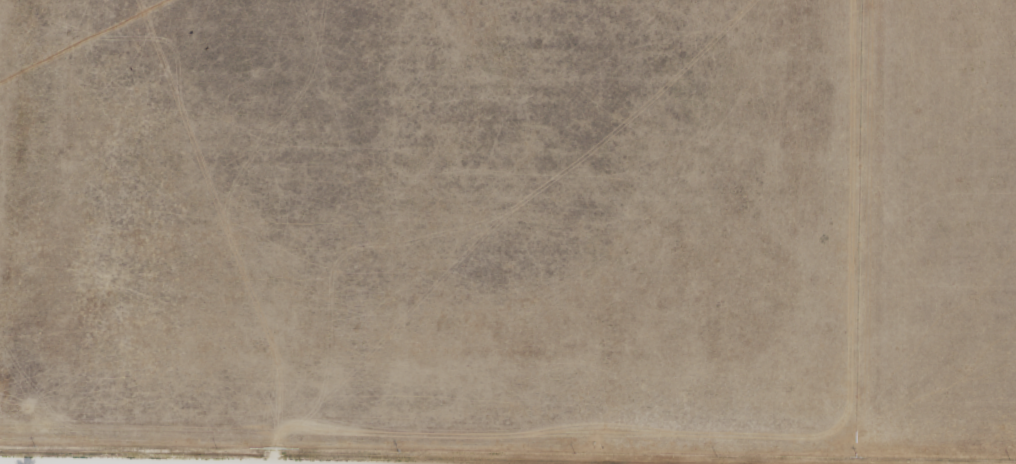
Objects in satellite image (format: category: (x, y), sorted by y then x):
road: (37, 463)

